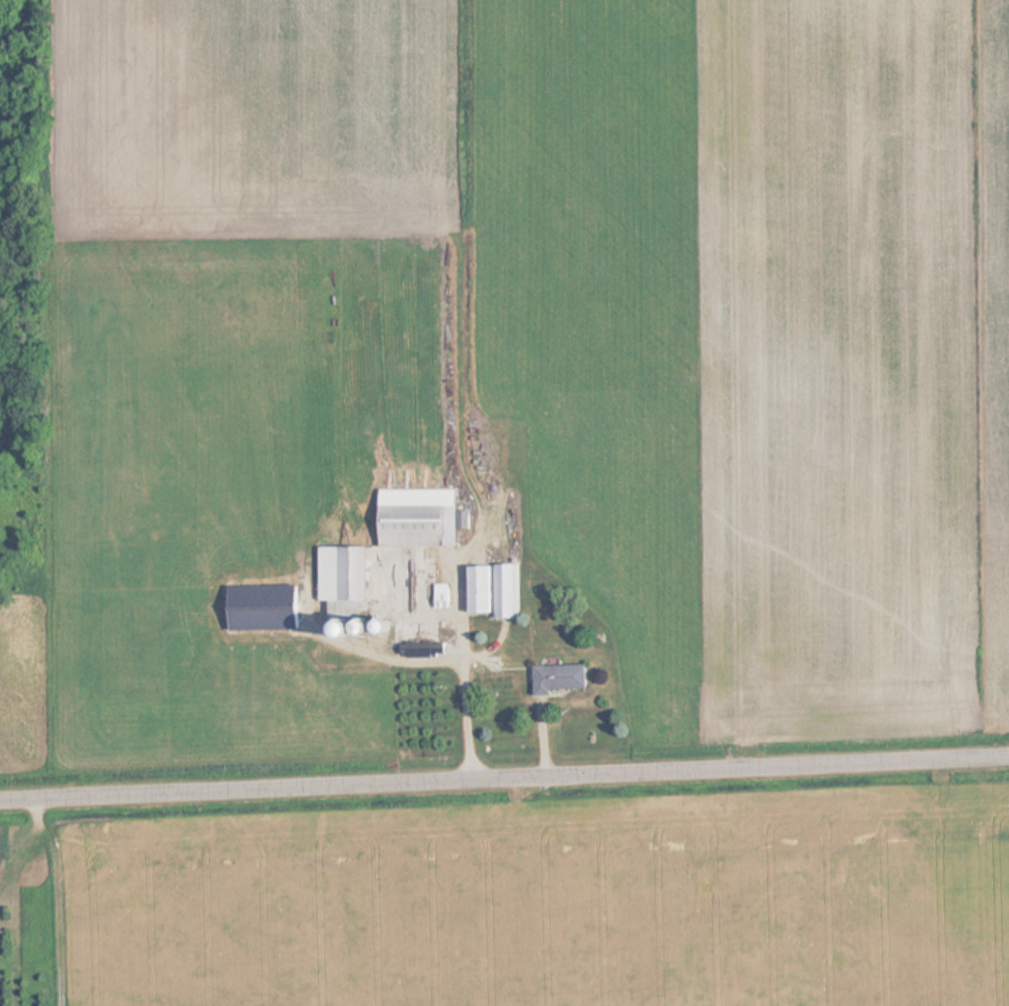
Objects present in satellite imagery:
building: (414, 518)
building: (336, 574)
building: (491, 589)
building: (256, 607)
building: (342, 613)
building: (554, 677)
road: (504, 778)

